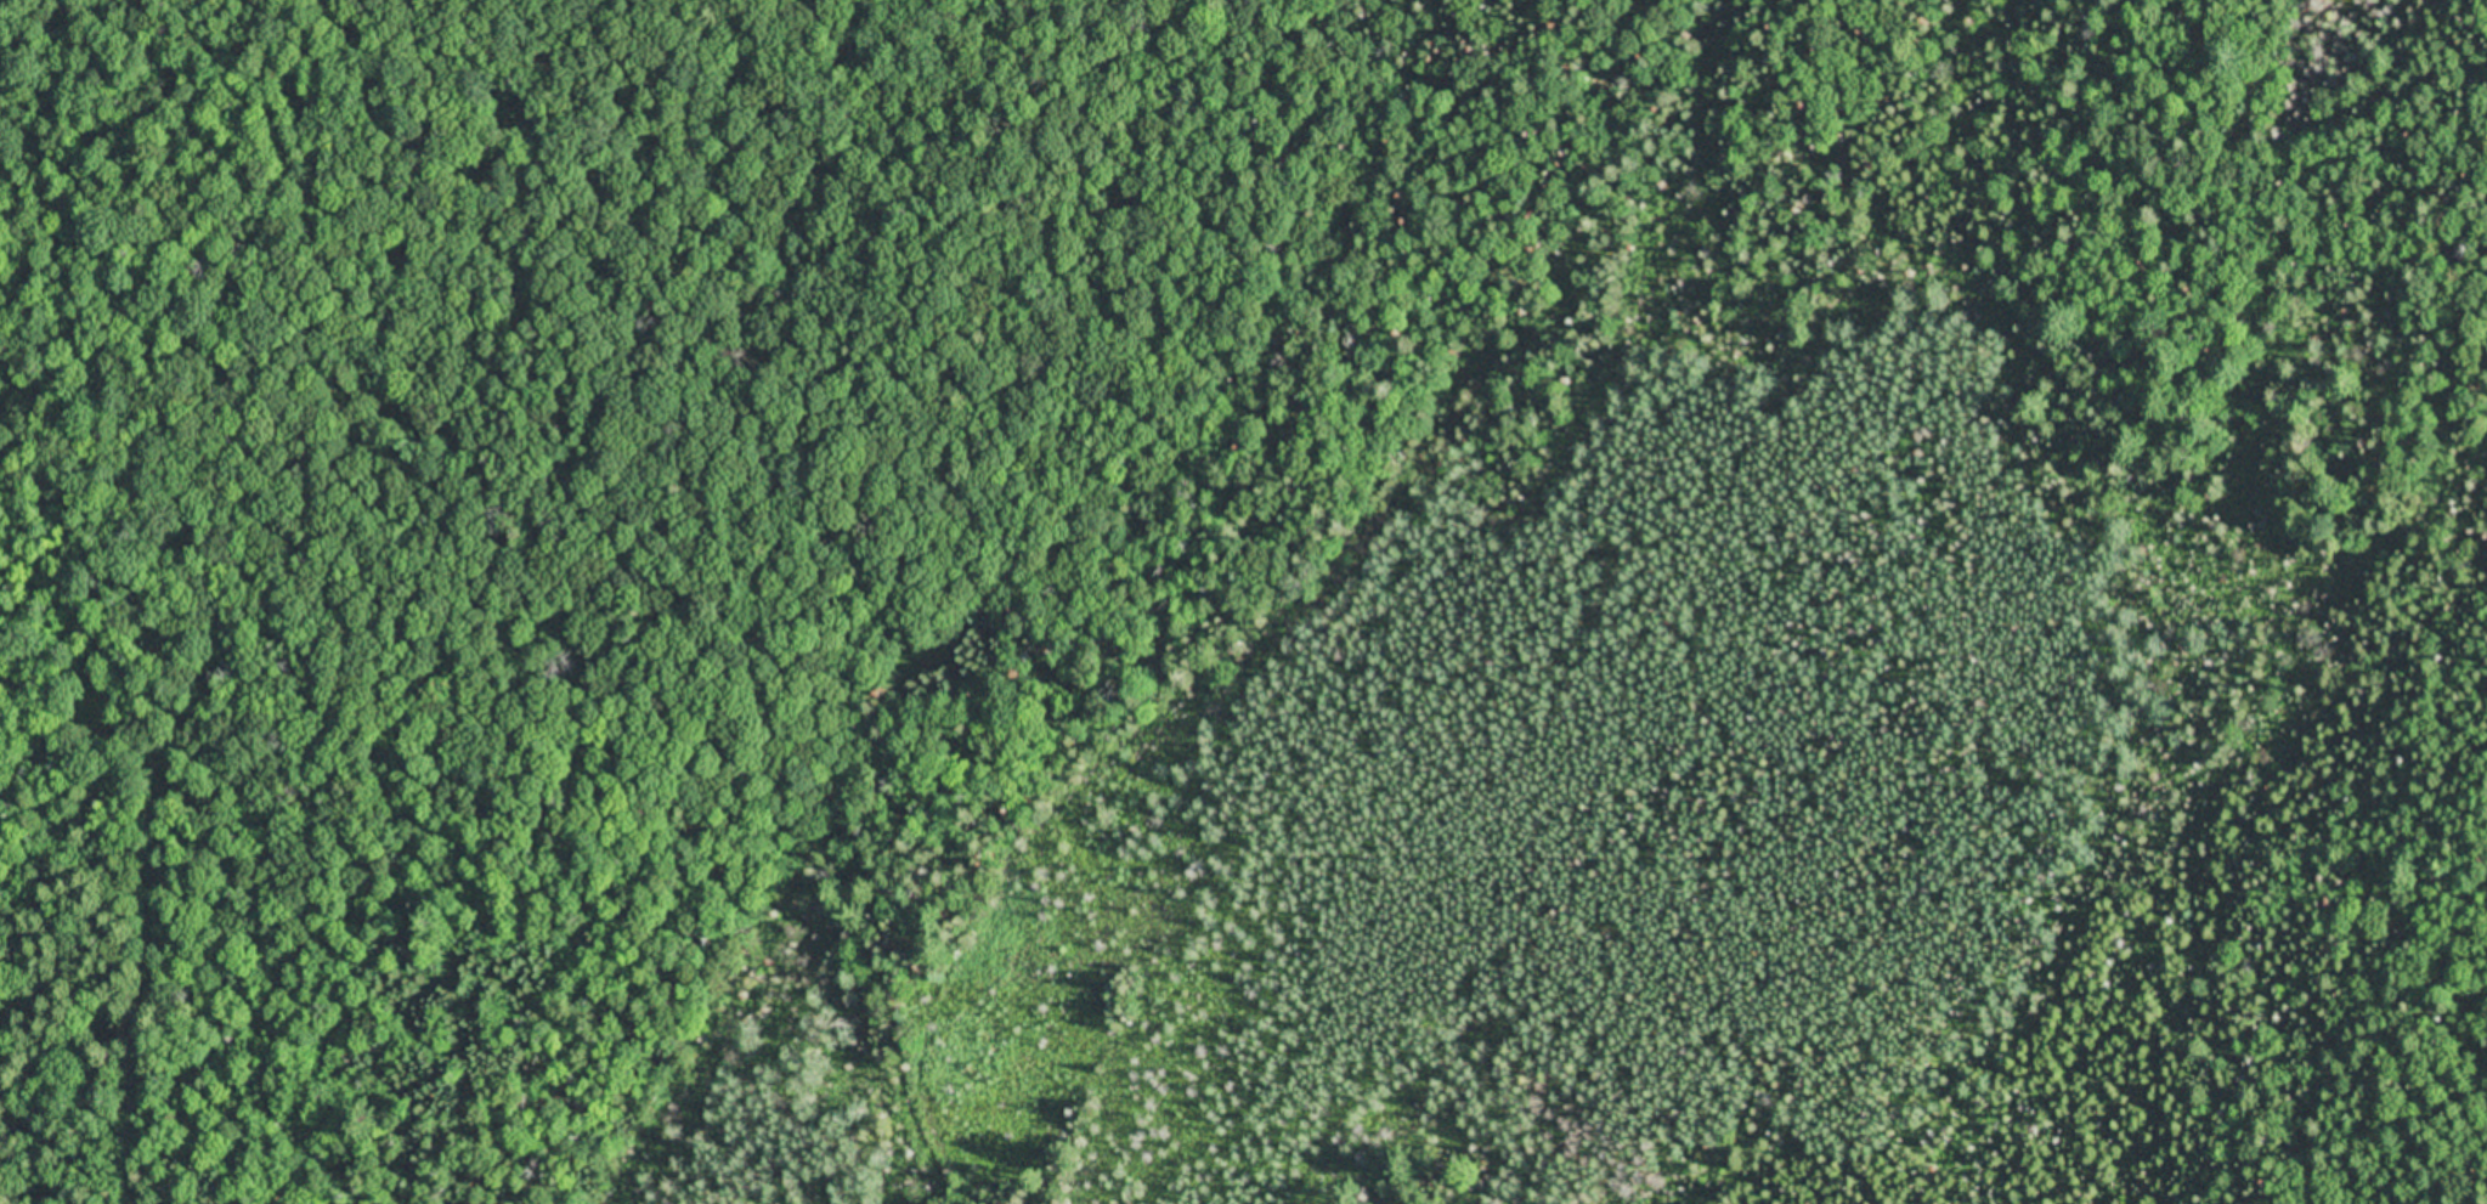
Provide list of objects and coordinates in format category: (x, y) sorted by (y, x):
building: (945, 648)
road: (854, 917)

